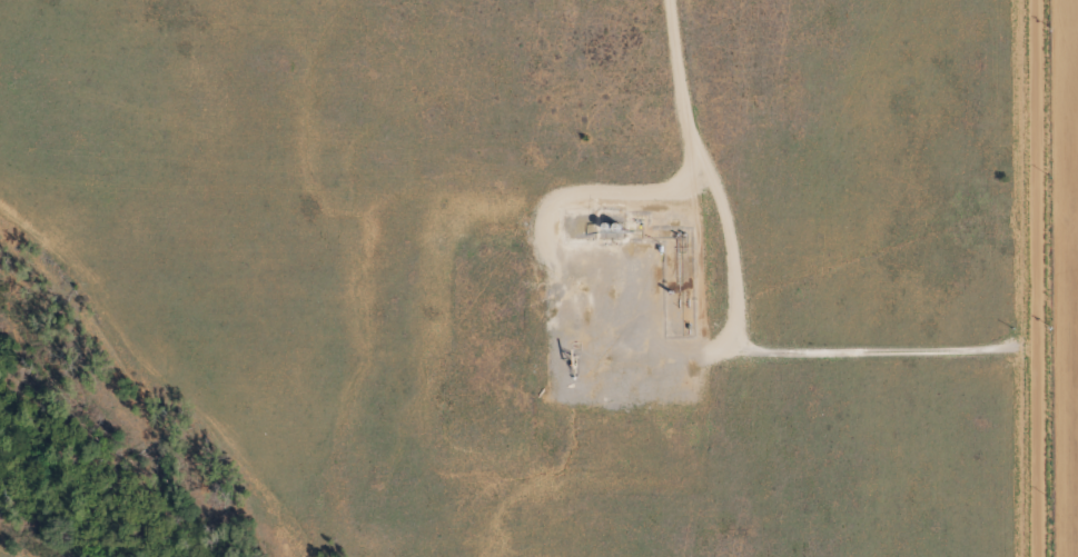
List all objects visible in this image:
road: (1034, 278)

